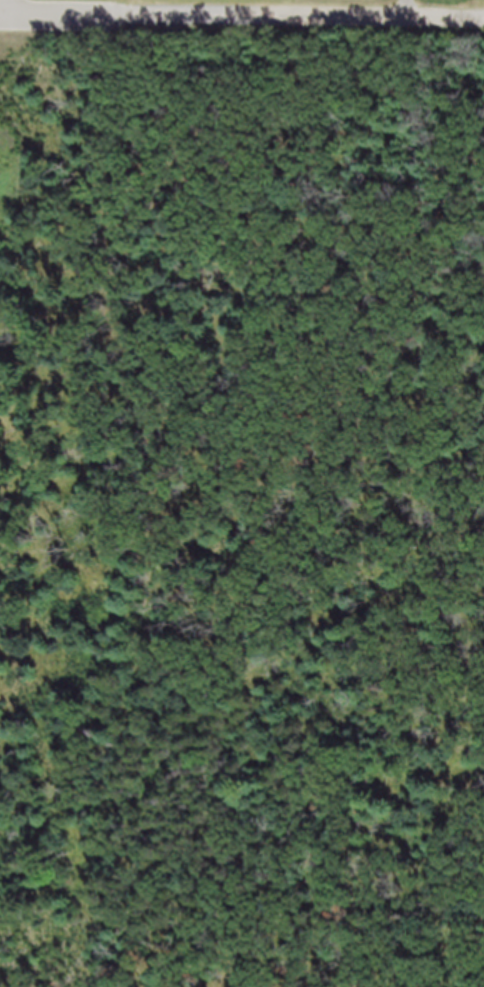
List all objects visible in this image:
road: (6, 12)
road: (242, 22)

